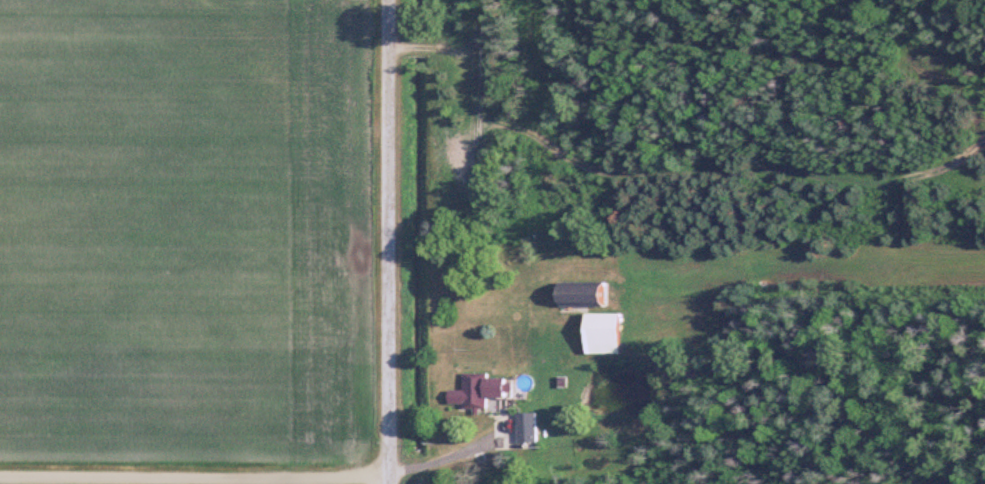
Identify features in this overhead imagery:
road: (387, 242)
building: (594, 293)
building: (615, 332)
building: (489, 389)
building: (535, 426)
road: (194, 477)

